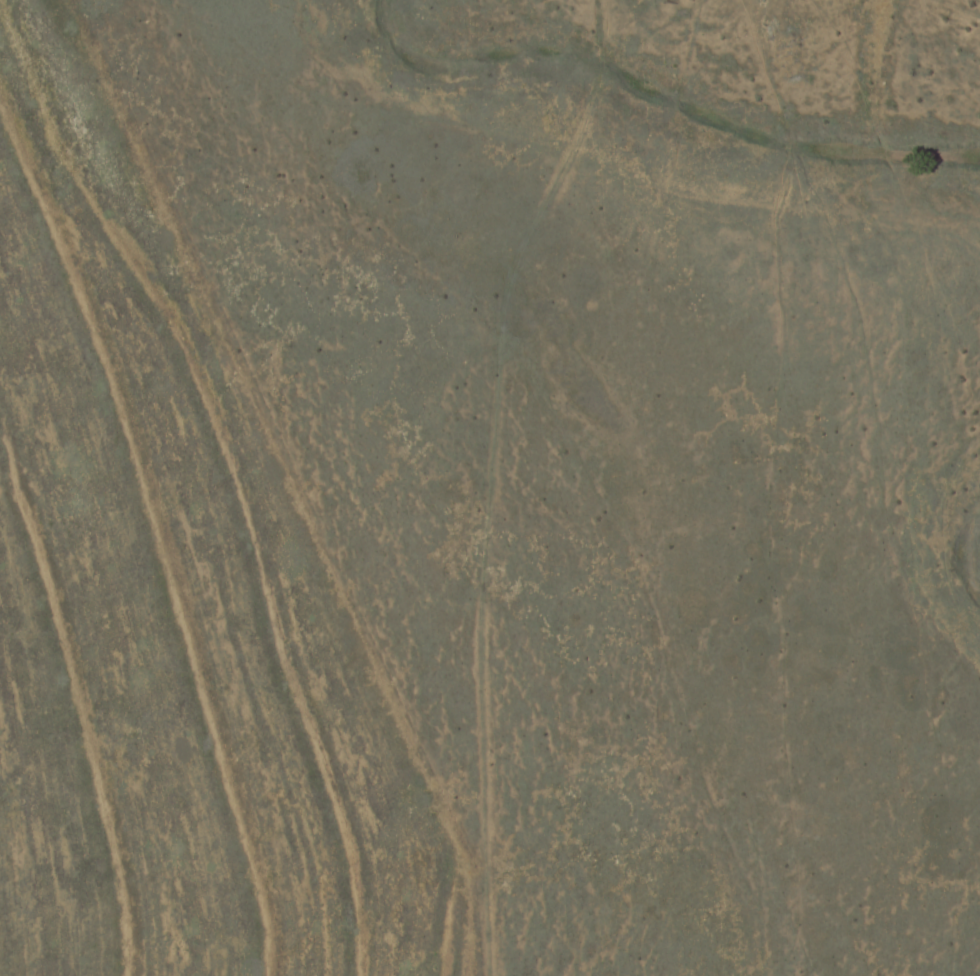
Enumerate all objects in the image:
road: (848, 58)
road: (600, 485)

